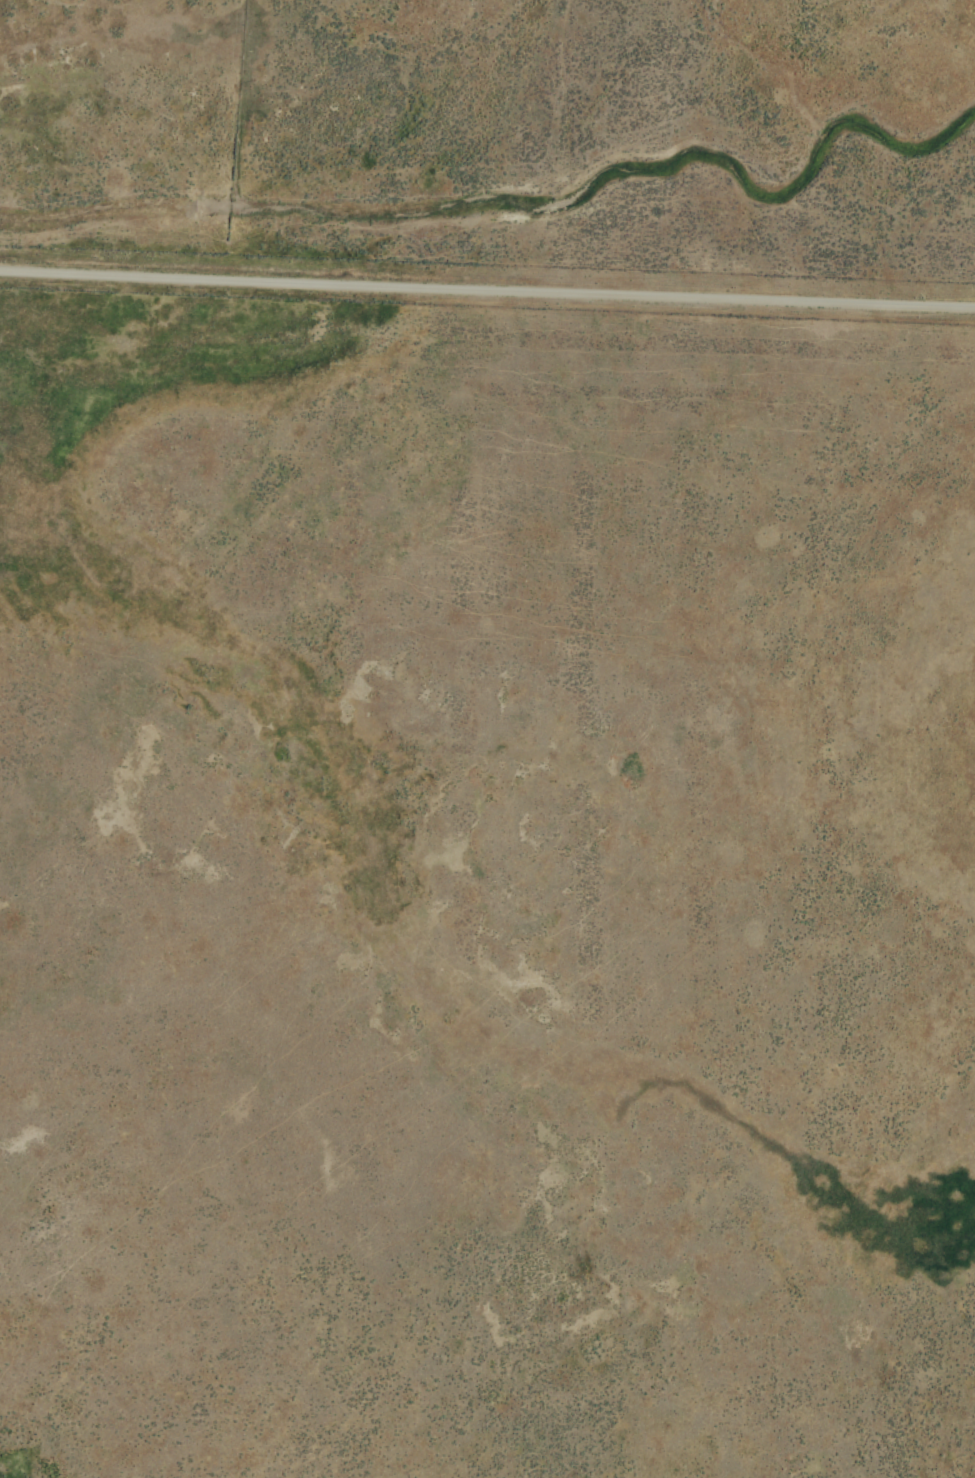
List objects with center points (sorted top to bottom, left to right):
road: (487, 293)
crop: (487, 739)

